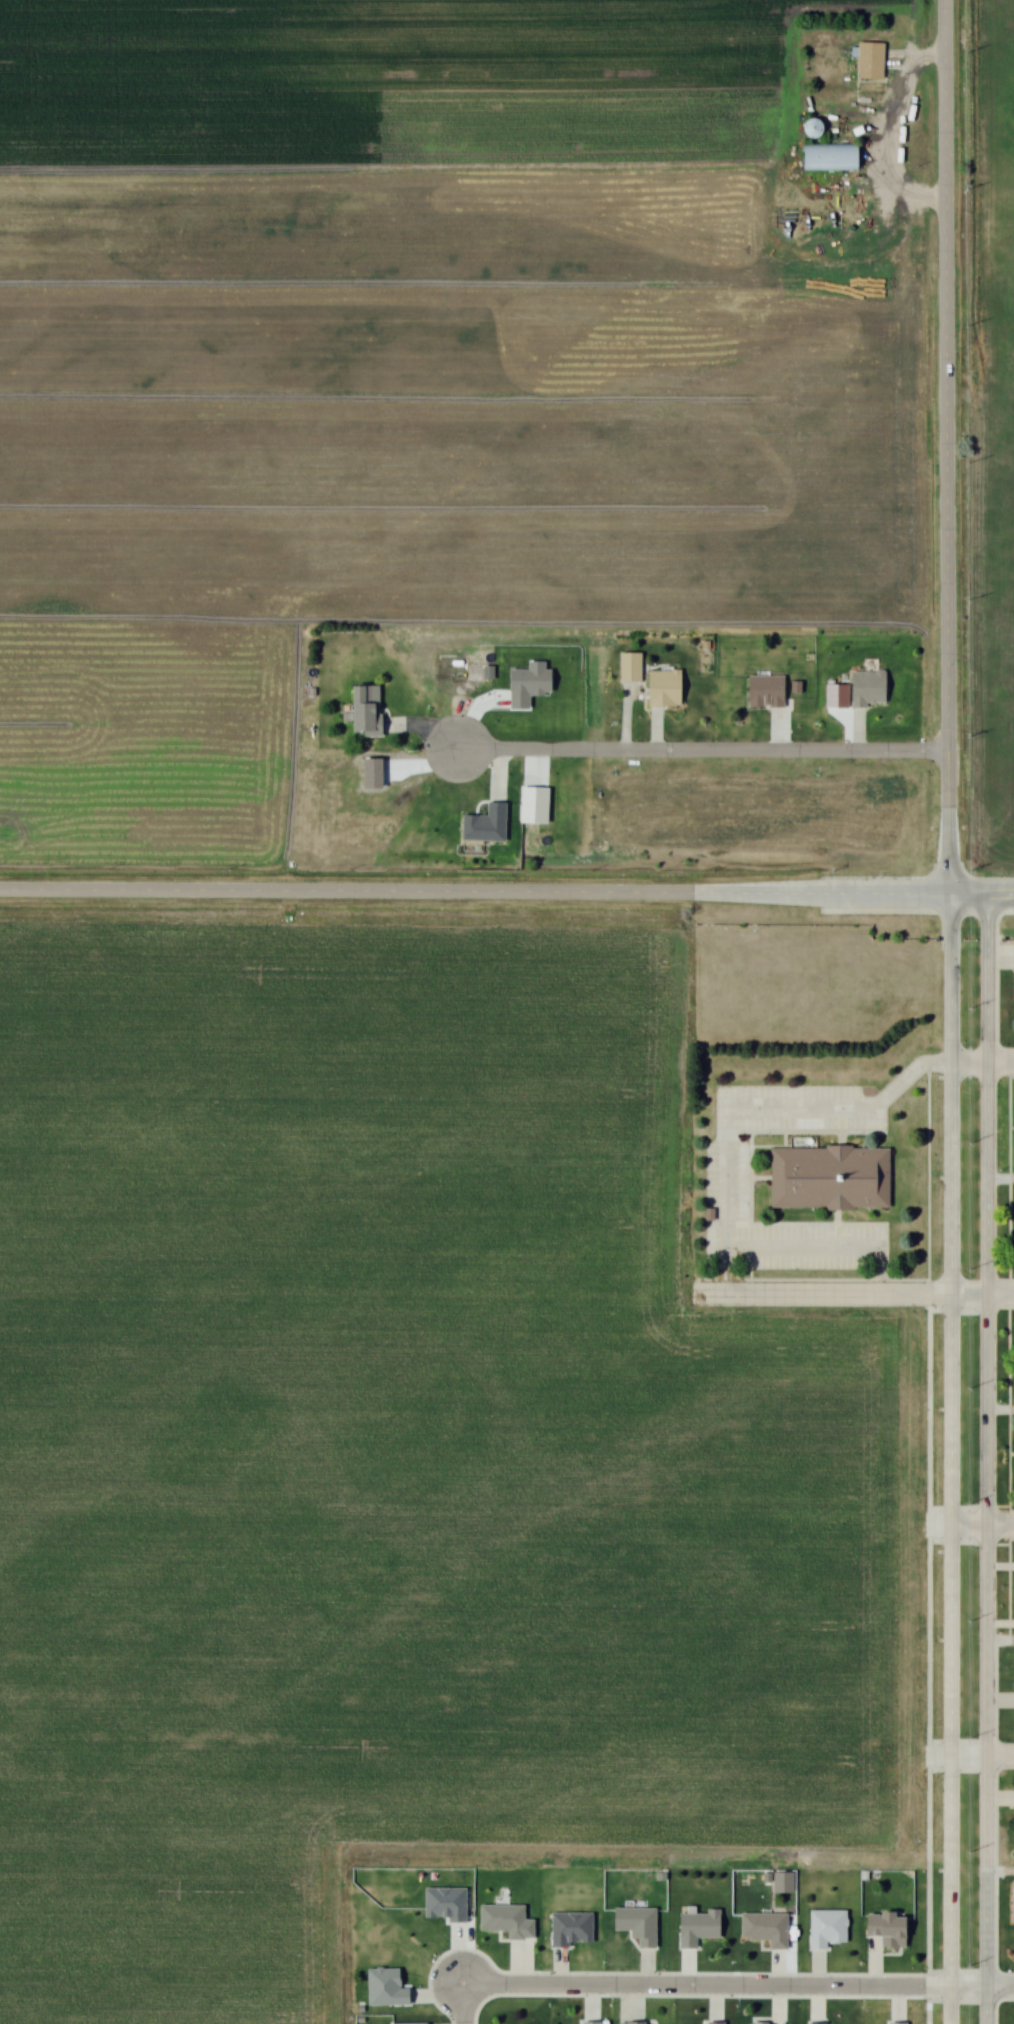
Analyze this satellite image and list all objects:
building: (872, 60)
building: (833, 158)
crop: (1005, 178)
crop: (400, 367)
road: (946, 435)
crop: (998, 615)
building: (626, 666)
building: (660, 687)
building: (865, 688)
building: (763, 690)
building: (359, 709)
road: (626, 716)
road: (424, 724)
road: (655, 730)
road: (857, 731)
road: (780, 732)
road: (702, 749)
road: (497, 771)
building: (479, 823)
road: (475, 895)
road: (981, 898)
road: (995, 955)
building: (1011, 957)
road: (981, 1065)
road: (758, 1114)
building: (825, 1176)
road: (1000, 1179)
road: (857, 1294)
road: (1008, 1352)
road: (1001, 1412)
road: (987, 1441)
road: (949, 1447)
road: (981, 1529)
road: (926, 1544)
road: (1001, 1565)
road: (1001, 1622)
road: (1001, 1640)
road: (1000, 1699)
road: (981, 1755)
road: (1000, 1797)
road: (1000, 1874)
building: (781, 1880)
building: (441, 1902)
building: (503, 1918)
building: (638, 1923)
building: (566, 1927)
building: (822, 1927)
building: (692, 1928)
building: (768, 1929)
building: (881, 1929)
road: (460, 1957)
road: (519, 1965)
road: (561, 1970)
road: (644, 1970)
road: (685, 1970)
road: (873, 1973)
road: (815, 1984)
road: (738, 1986)
building: (382, 1987)
road: (776, 1989)
road: (440, 1994)
road: (590, 1996)
road: (630, 1998)
road: (714, 1998)
road: (896, 2000)
road: (463, 2003)
building: (586, 2021)
building: (812, 2021)
building: (627, 2022)
building: (710, 2022)
building: (1013, 2022)
building: (407, 2023)
building: (754, 2023)
building: (899, 2023)

